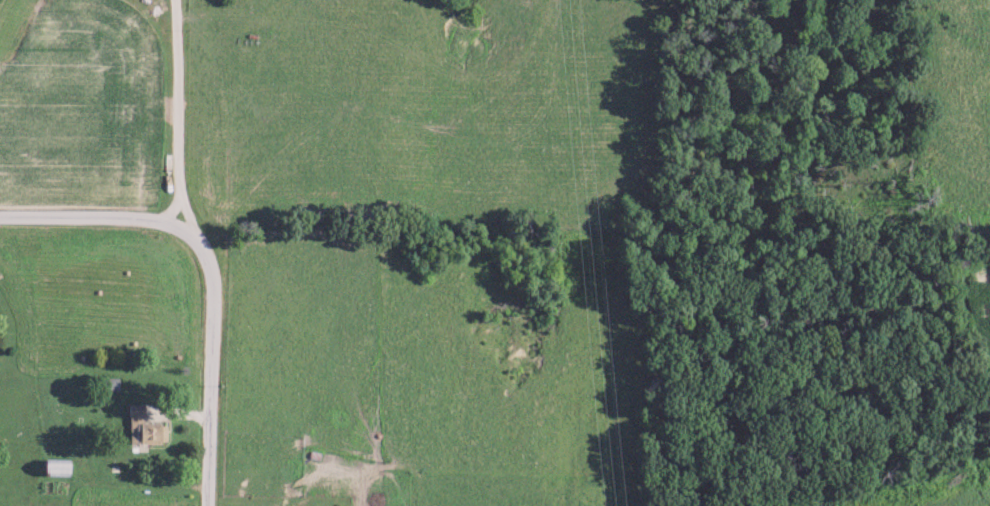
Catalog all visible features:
road: (175, 114)
road: (213, 270)
building: (134, 411)
building: (149, 433)
building: (52, 467)

